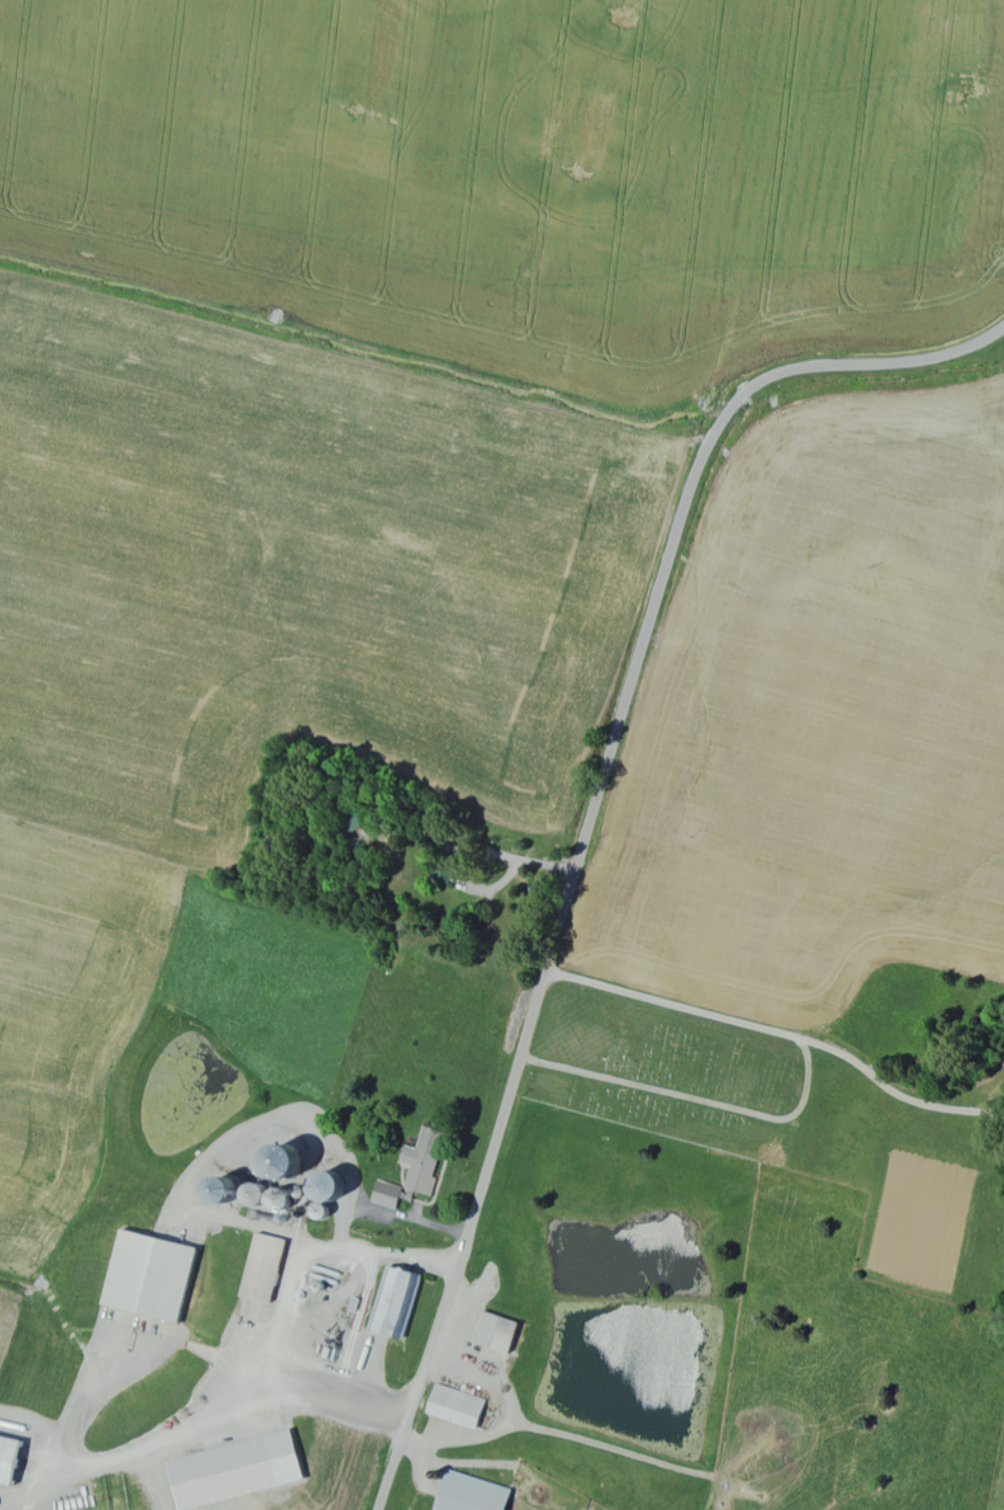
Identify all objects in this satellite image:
road: (407, 216)
road: (591, 817)
park: (687, 1078)
building: (428, 1161)
building: (396, 1195)
building: (272, 1268)
building: (157, 1276)
building: (402, 1301)
building: (503, 1332)
building: (462, 1407)
road: (202, 1454)
building: (16, 1460)
building: (246, 1471)
building: (479, 1494)

